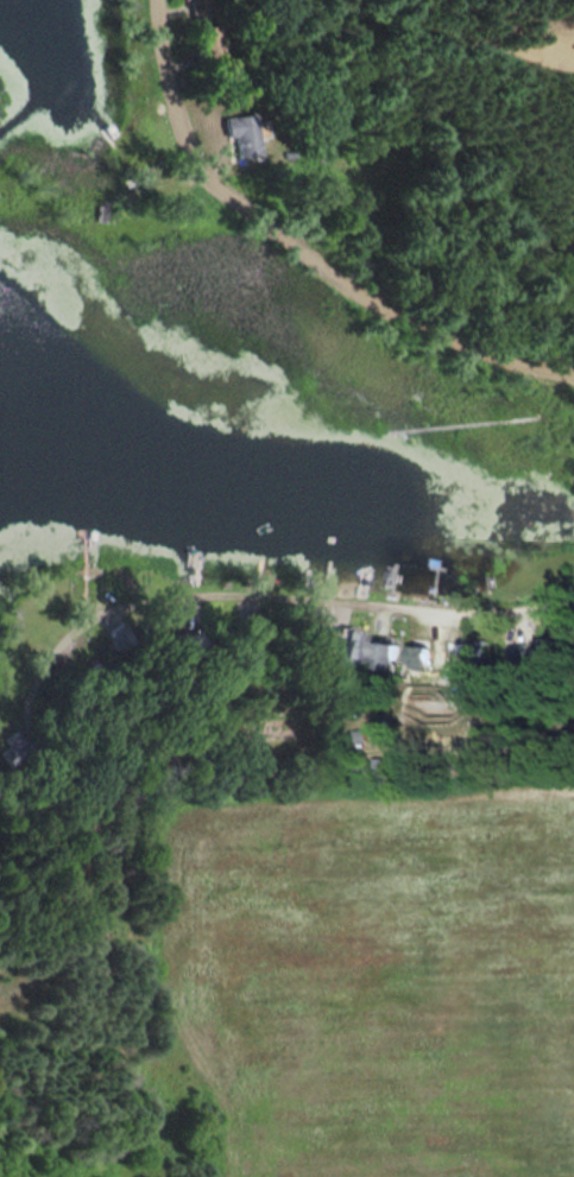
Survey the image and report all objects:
building: (207, 42)
building: (244, 133)
road: (291, 255)
road: (560, 343)
road: (330, 601)
building: (323, 641)
building: (354, 646)
building: (554, 648)
building: (384, 653)
building: (418, 656)
building: (452, 660)
road: (42, 666)
building: (15, 747)

